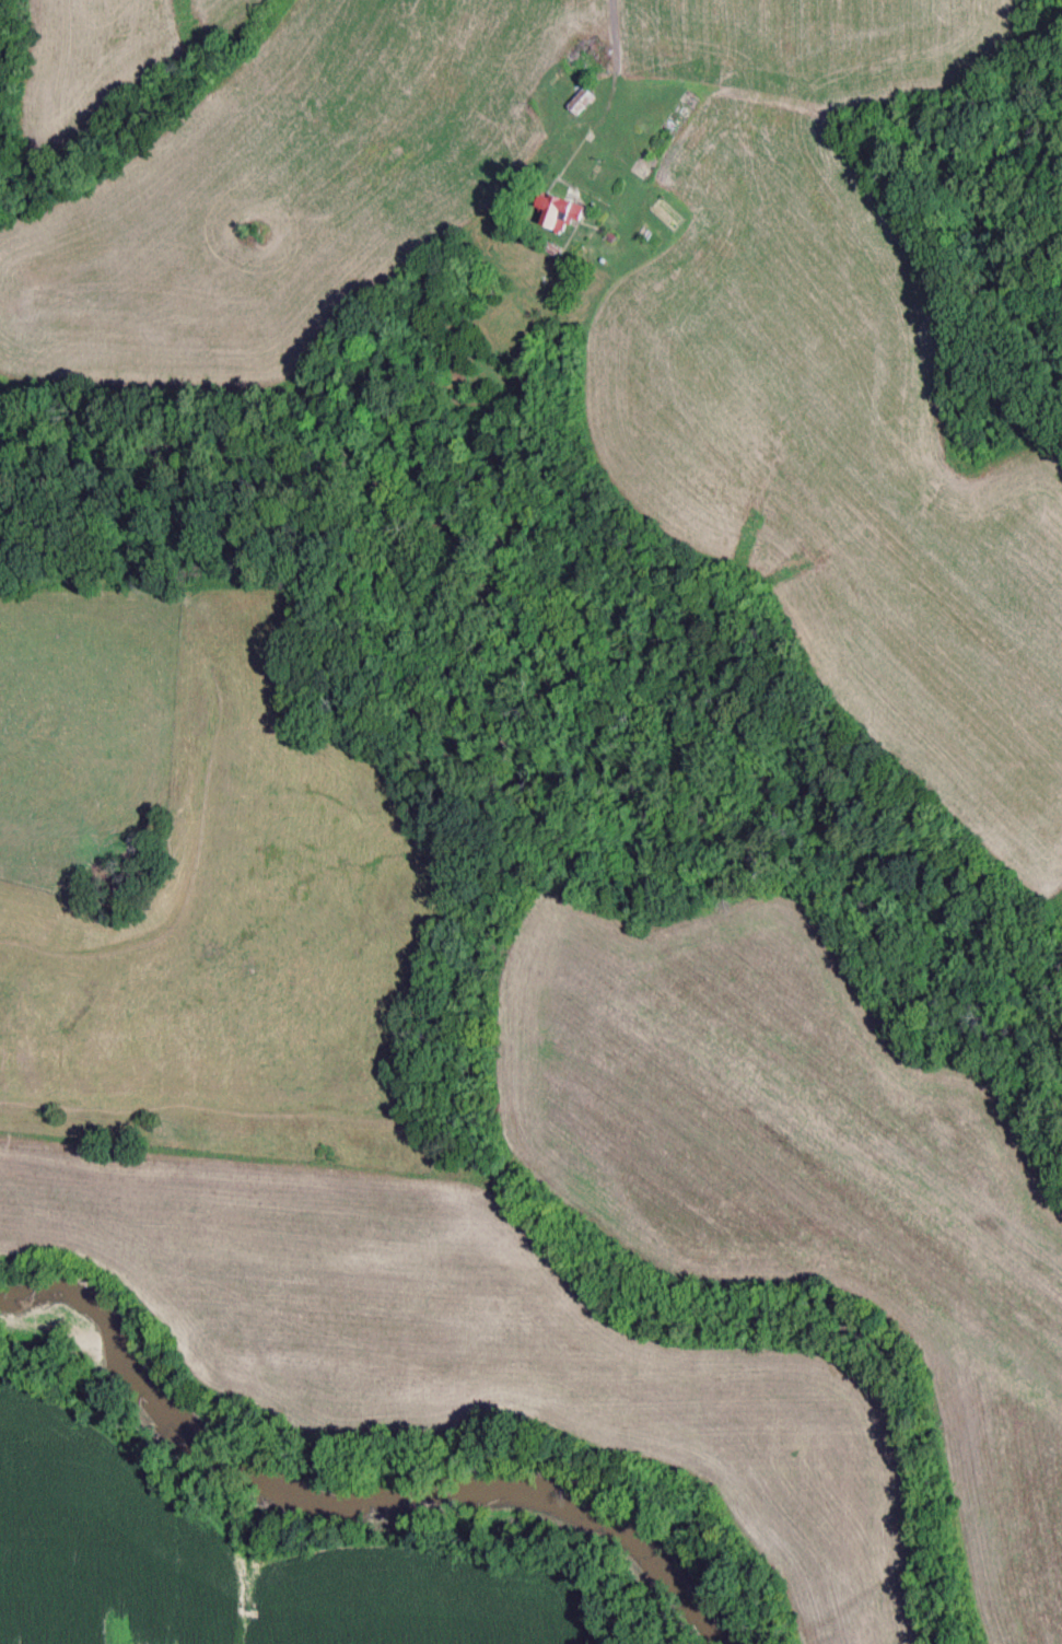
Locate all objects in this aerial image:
road: (593, 32)
building: (586, 61)
building: (581, 103)
building: (555, 213)
river: (363, 1496)

